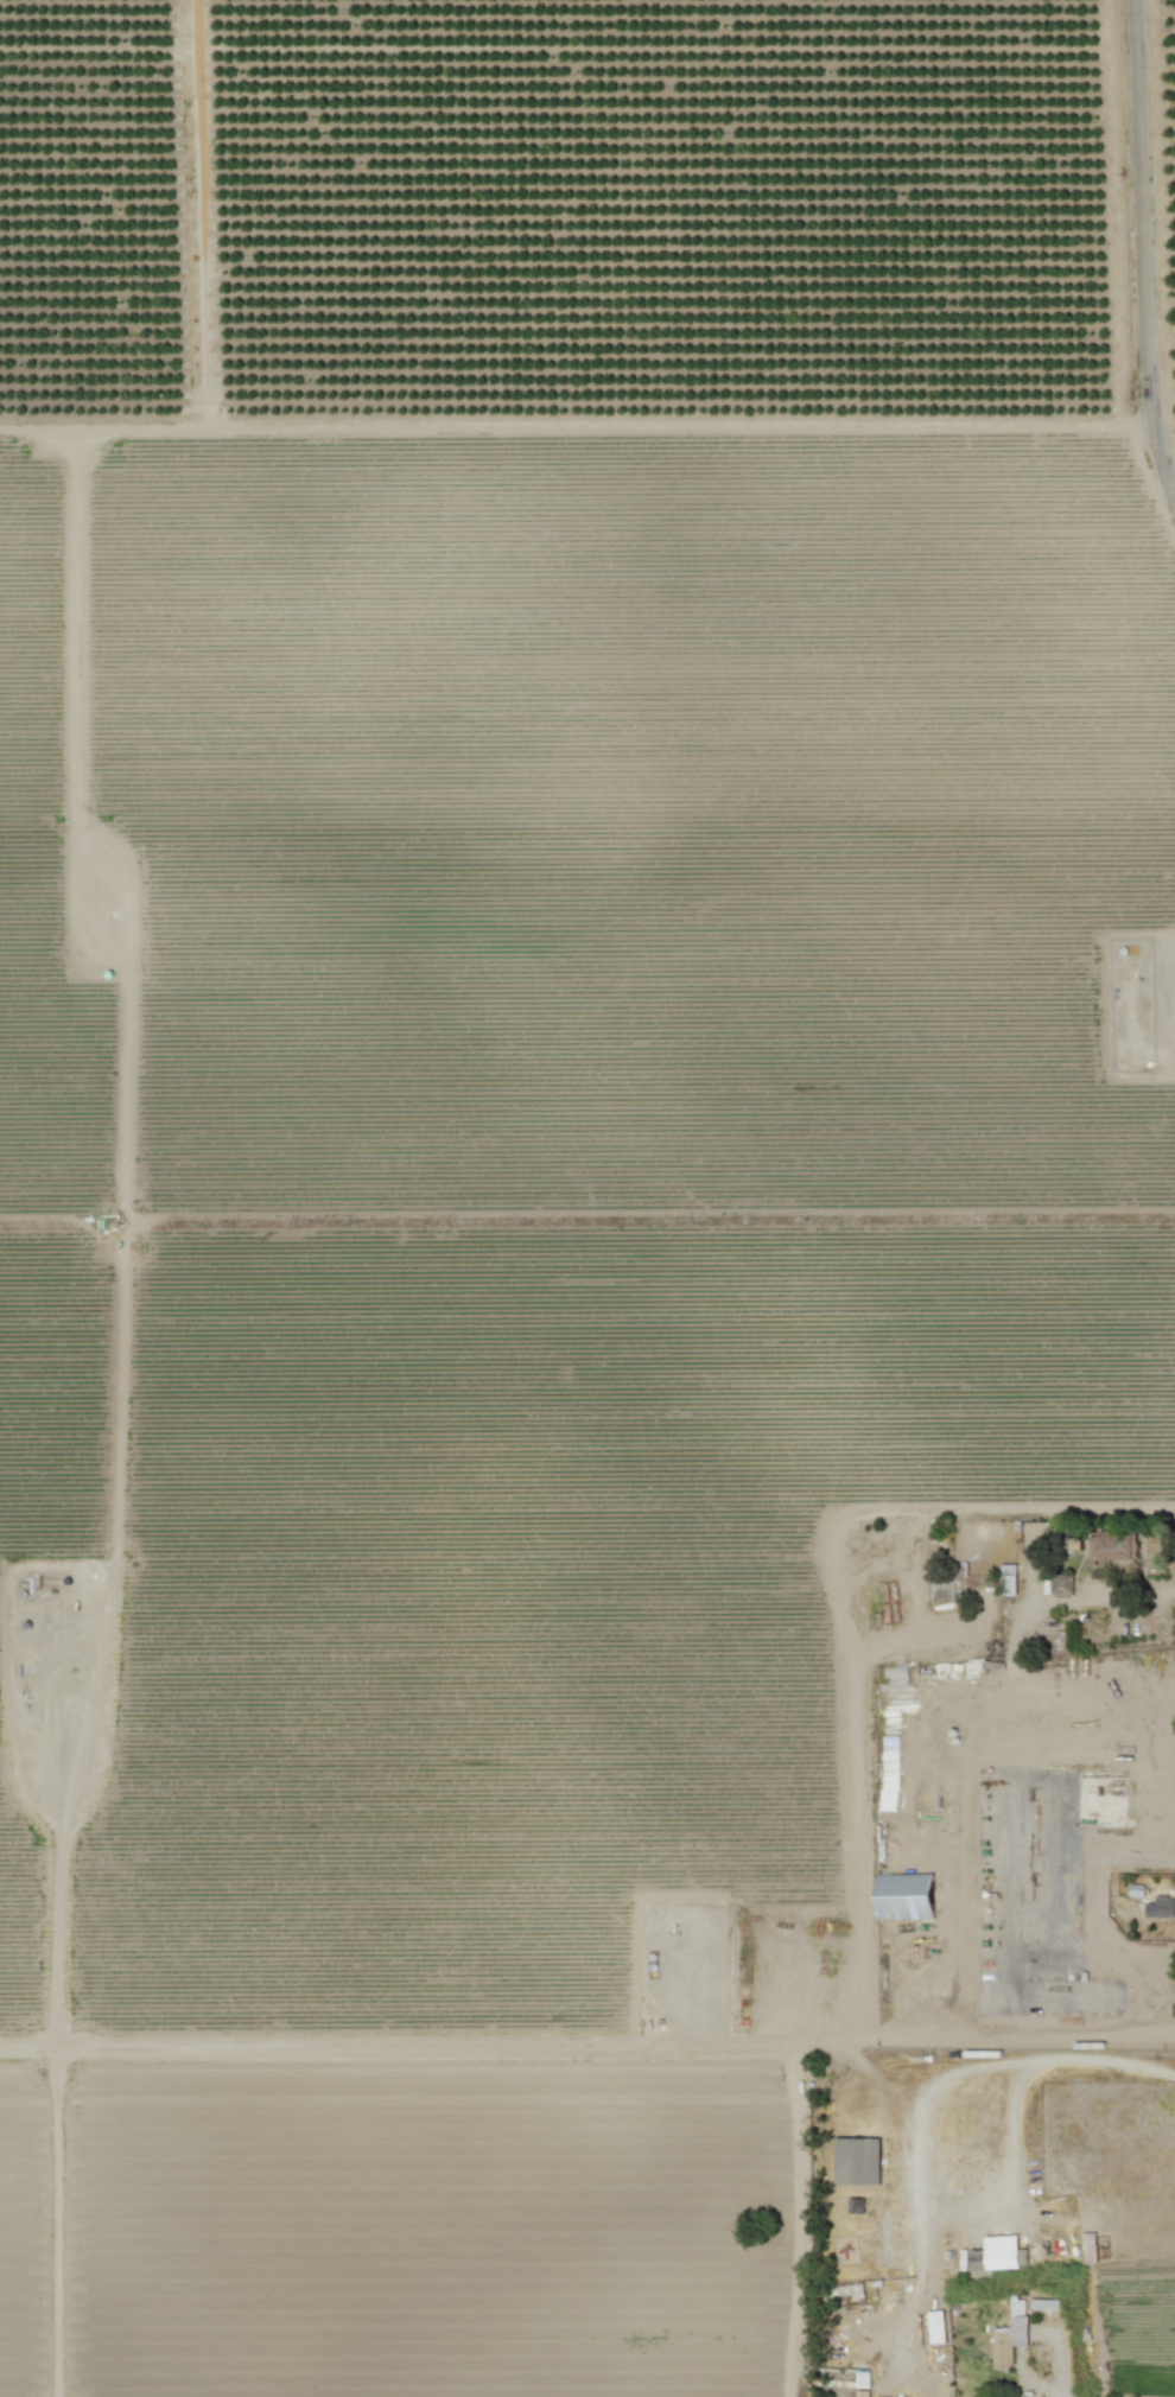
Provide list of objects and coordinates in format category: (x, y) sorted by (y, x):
road: (1143, 247)
building: (1034, 1536)
building: (1075, 1544)
building: (1113, 1546)
building: (1008, 1579)
building: (1061, 1584)
building: (904, 1896)
building: (1161, 1907)
road: (1025, 2066)
building: (857, 2161)
building: (856, 2205)
building: (997, 2253)
building: (850, 2289)
building: (1010, 2334)
building: (862, 2379)
road: (1028, 2382)

